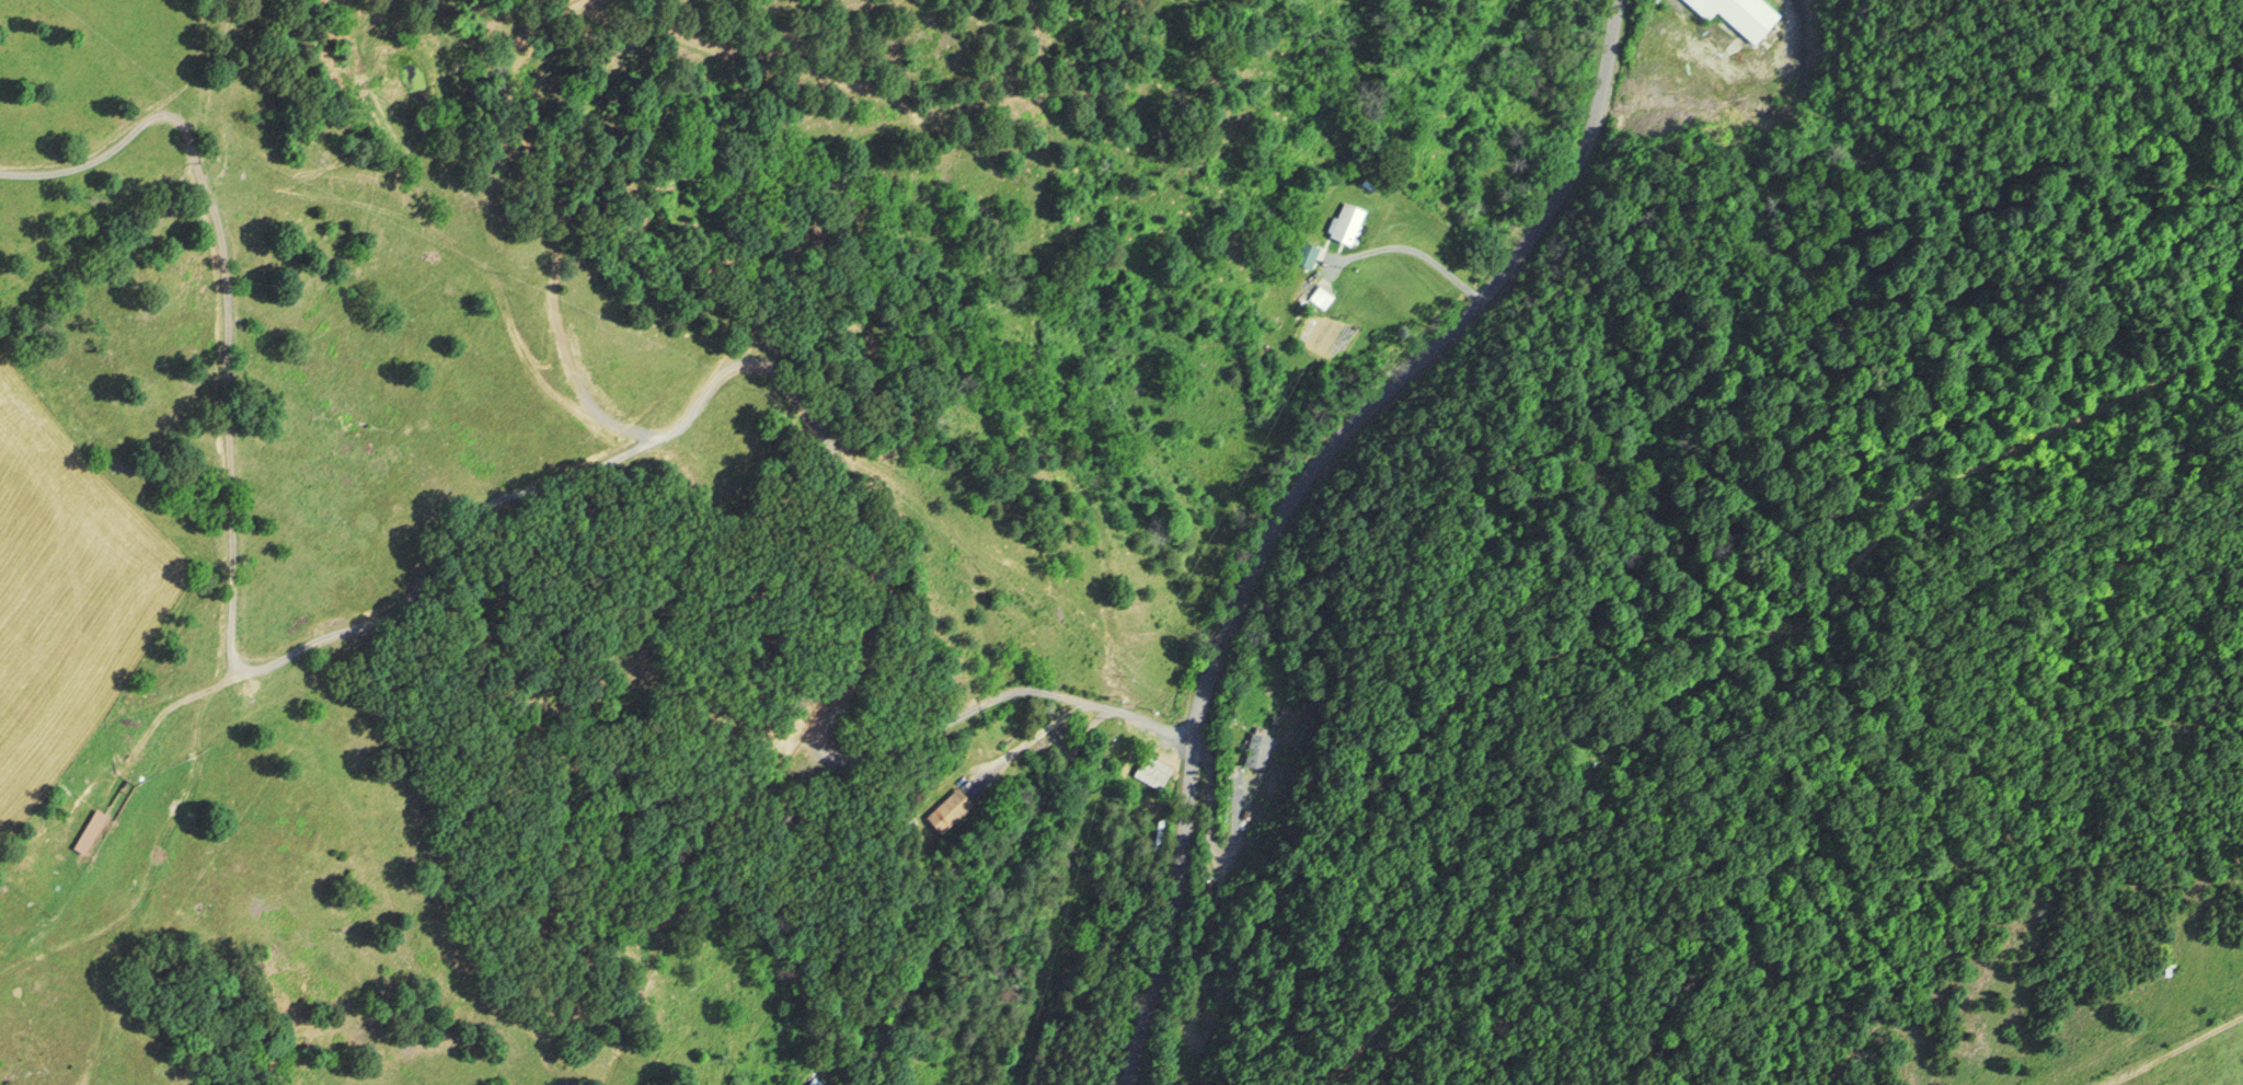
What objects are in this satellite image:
building: (1742, 14)
building: (1350, 222)
building: (1308, 254)
road: (529, 481)
road: (1290, 499)
building: (1259, 748)
building: (1153, 771)
building: (951, 809)
building: (91, 832)

